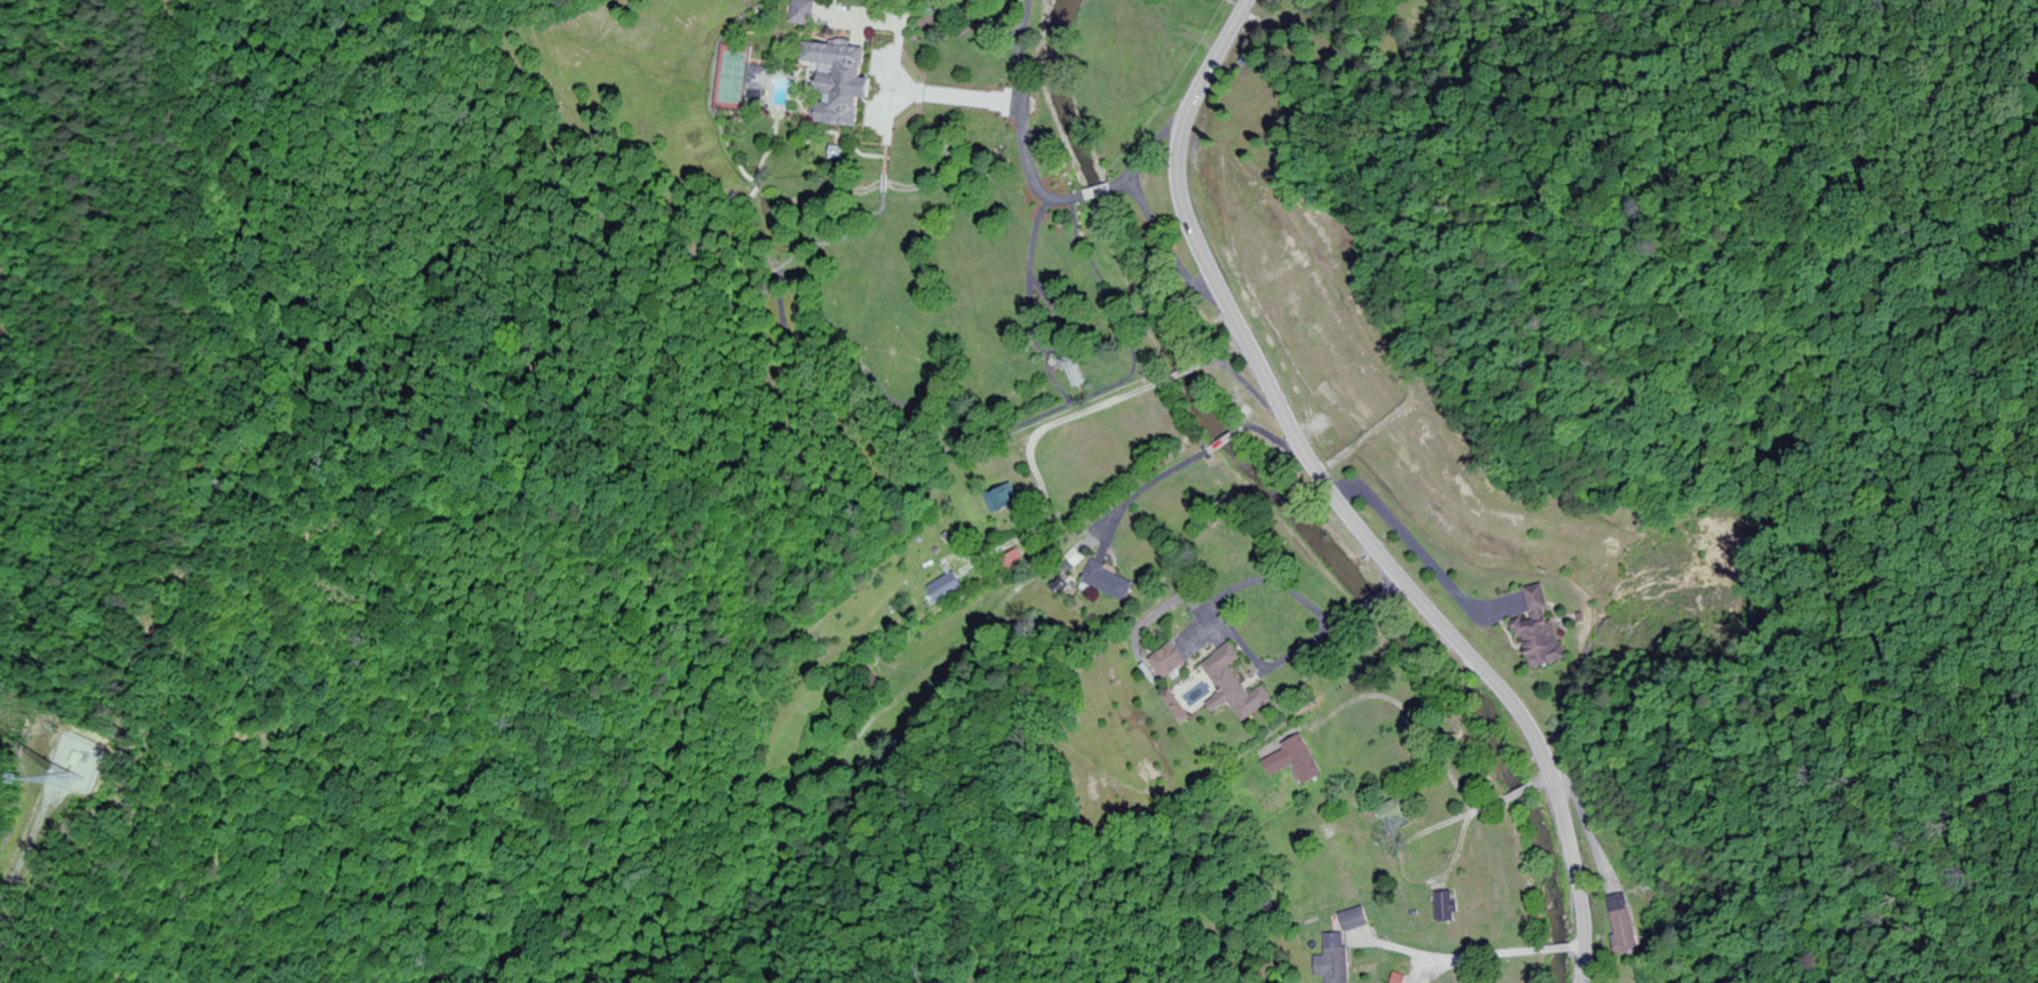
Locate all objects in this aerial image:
building: (804, 13)
building: (759, 79)
park: (728, 80)
building: (842, 83)
road: (894, 83)
road: (1026, 103)
road: (892, 112)
road: (1122, 187)
road: (1099, 194)
road: (1143, 206)
road: (1031, 299)
building: (1075, 368)
road: (1080, 415)
building: (1004, 499)
road: (1340, 502)
building: (1015, 561)
building: (1108, 582)
building: (947, 587)
building: (1539, 630)
building: (1169, 661)
building: (1235, 685)
building: (1295, 760)
road: (1543, 781)
building: (1393, 813)
road: (1402, 841)
building: (1343, 860)
building: (1447, 907)
building: (1623, 924)
building: (1331, 960)

